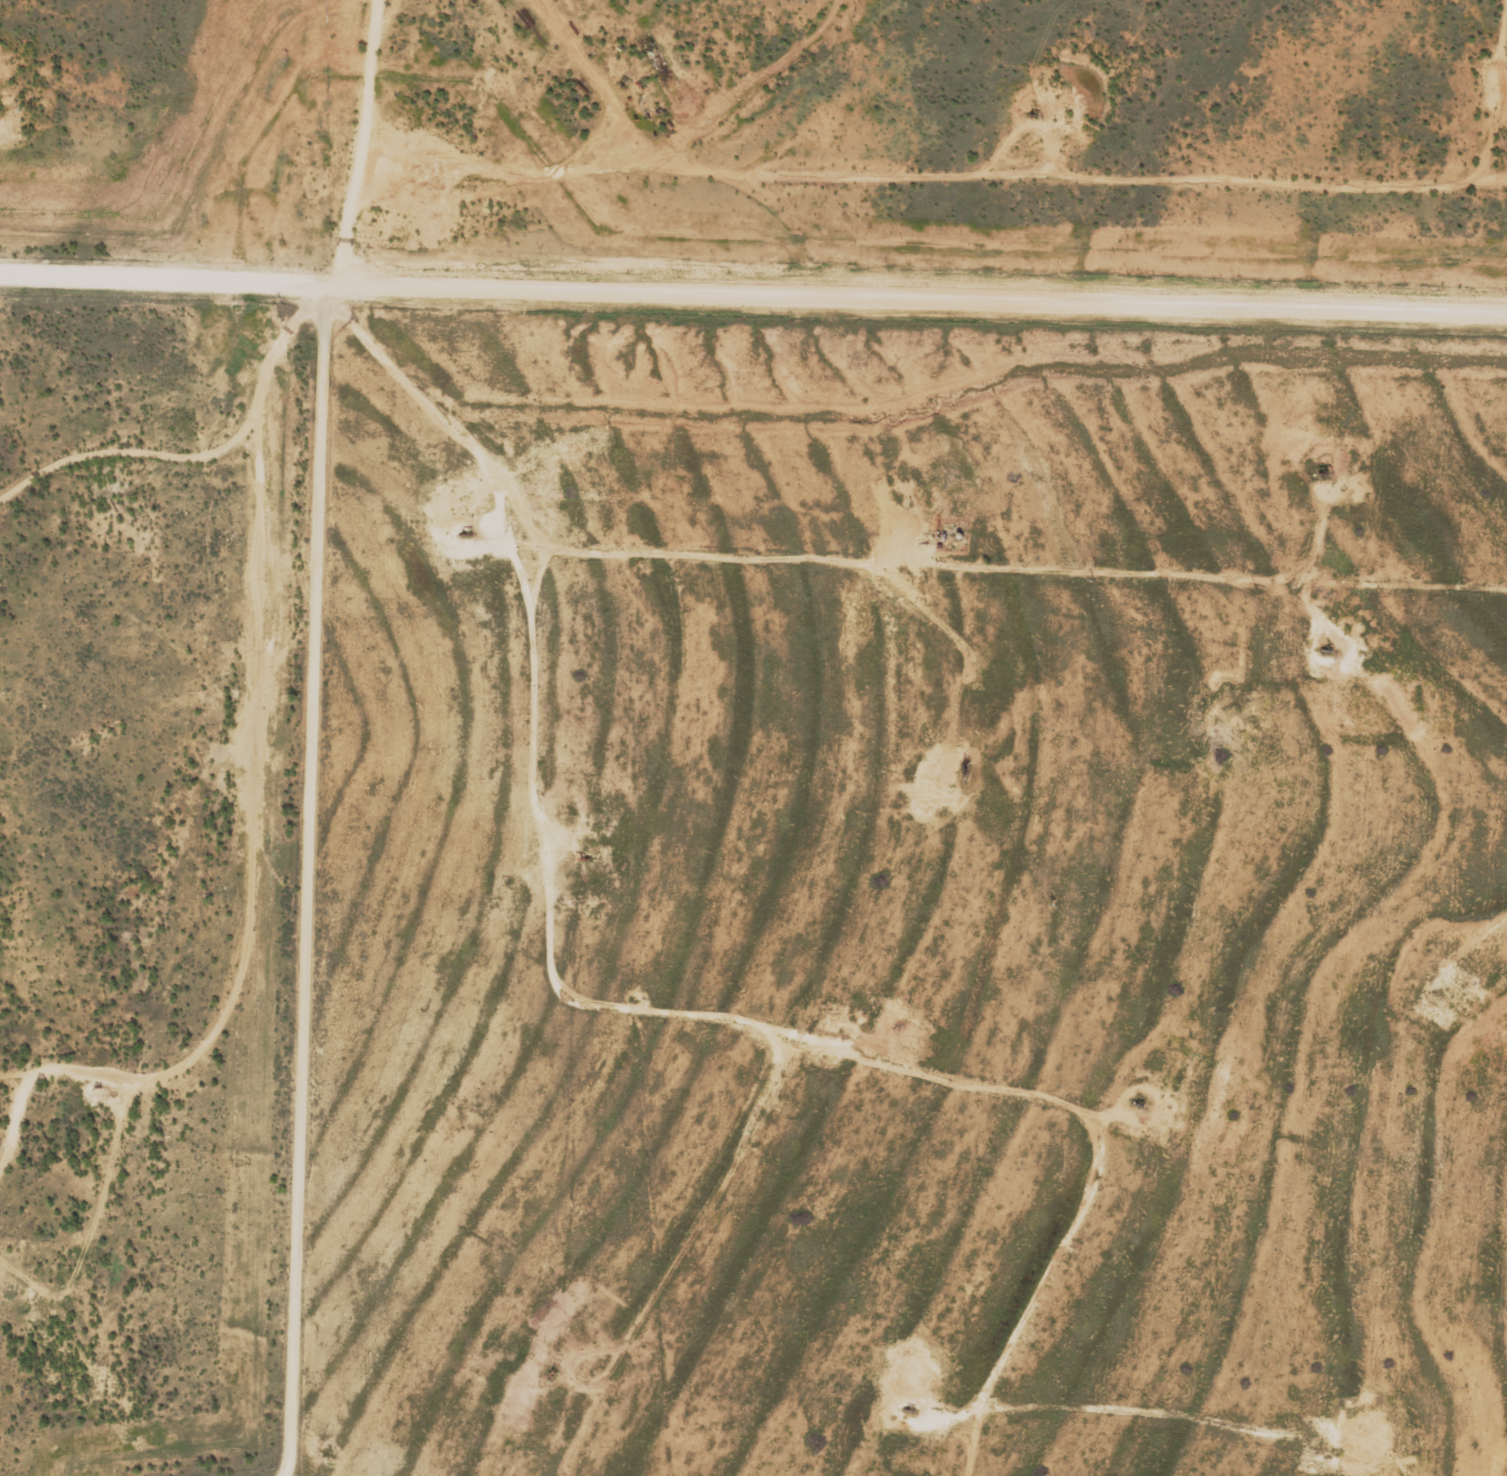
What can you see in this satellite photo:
road: (278, 36)
road: (168, 144)
road: (1316, 180)
road: (753, 313)
road: (178, 450)
road: (1018, 649)
road: (310, 732)
road: (532, 819)
road: (176, 1019)

